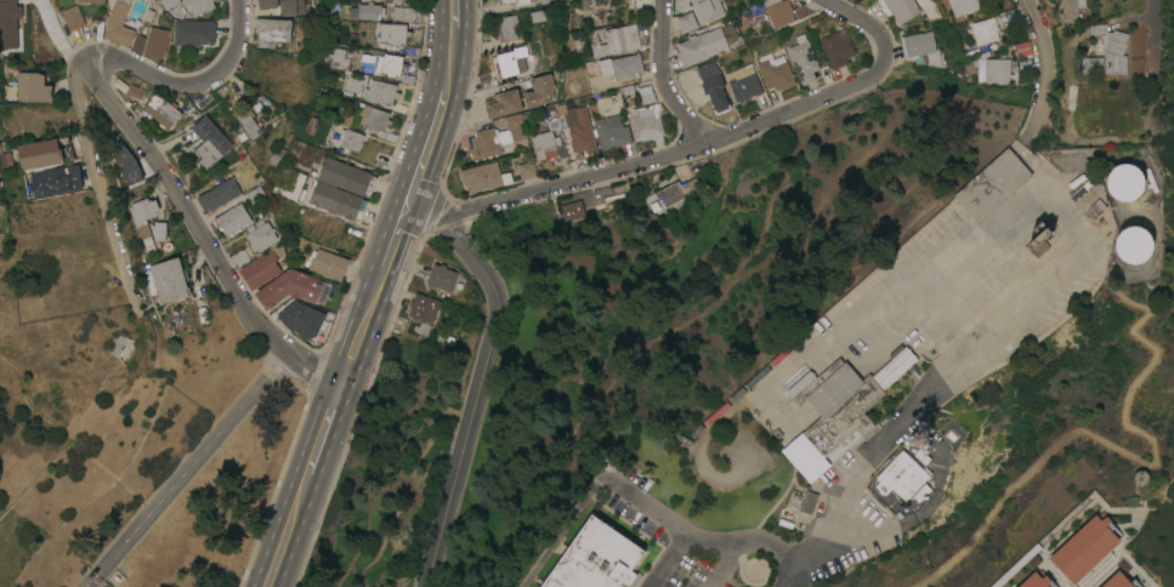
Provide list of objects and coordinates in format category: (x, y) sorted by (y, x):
building: (573, 0)
building: (90, 1)
building: (266, 4)
building: (520, 4)
building: (964, 5)
building: (189, 6)
building: (291, 7)
building: (900, 8)
road: (1152, 8)
building: (707, 10)
building: (1073, 10)
building: (267, 11)
building: (369, 11)
building: (778, 11)
road: (455, 13)
building: (404, 15)
building: (73, 17)
building: (592, 17)
building: (6, 22)
building: (686, 22)
road: (862, 22)
building: (119, 24)
building: (506, 27)
building: (985, 30)
building: (194, 32)
building: (272, 33)
building: (391, 34)
building: (617, 40)
building: (157, 42)
building: (138, 44)
building: (918, 44)
building: (701, 46)
building: (838, 47)
building: (1023, 49)
building: (1107, 52)
building: (804, 58)
road: (450, 61)
building: (363, 62)
building: (512, 62)
building: (622, 65)
building: (997, 69)
road: (1044, 70)
building: (775, 72)
road: (665, 76)
building: (743, 82)
road: (185, 85)
building: (353, 85)
building: (713, 85)
building: (33, 86)
building: (540, 90)
building: (380, 93)
building: (1070, 96)
building: (503, 103)
building: (607, 103)
building: (161, 112)
building: (373, 119)
building: (645, 122)
building: (248, 125)
building: (310, 125)
building: (515, 126)
building: (612, 131)
building: (582, 135)
building: (209, 143)
building: (350, 143)
building: (484, 144)
building: (548, 146)
road: (425, 150)
building: (40, 154)
road: (650, 156)
building: (527, 170)
building: (484, 176)
building: (346, 177)
road: (92, 178)
building: (1125, 181)
storage tank: (1125, 181)
building: (55, 182)
building: (993, 184)
road: (1056, 193)
building: (1090, 194)
building: (219, 195)
building: (255, 195)
building: (670, 195)
building: (336, 201)
building: (573, 210)
building: (142, 215)
building: (232, 220)
road: (988, 228)
building: (159, 230)
road: (198, 232)
building: (260, 235)
road: (395, 236)
building: (1039, 240)
building: (1134, 244)
storage tank: (1134, 244)
building: (238, 256)
building: (328, 264)
building: (260, 270)
building: (446, 279)
building: (169, 280)
road: (1042, 286)
building: (293, 289)
building: (422, 313)
road: (862, 313)
building: (301, 320)
road: (362, 323)
road: (906, 329)
building: (119, 344)
building: (789, 372)
building: (801, 382)
road: (477, 395)
building: (841, 410)
road: (323, 427)
road: (886, 434)
building: (687, 435)
road: (191, 463)
building: (902, 475)
storage tank: (1141, 477)
building: (919, 492)
building: (809, 502)
road: (643, 506)
road: (606, 517)
building: (785, 519)
road: (558, 529)
road: (287, 530)
road: (719, 541)
building: (1084, 548)
building: (596, 558)
road: (721, 566)
road: (796, 576)
building: (1036, 580)
road: (89, 581)
building: (1118, 581)

